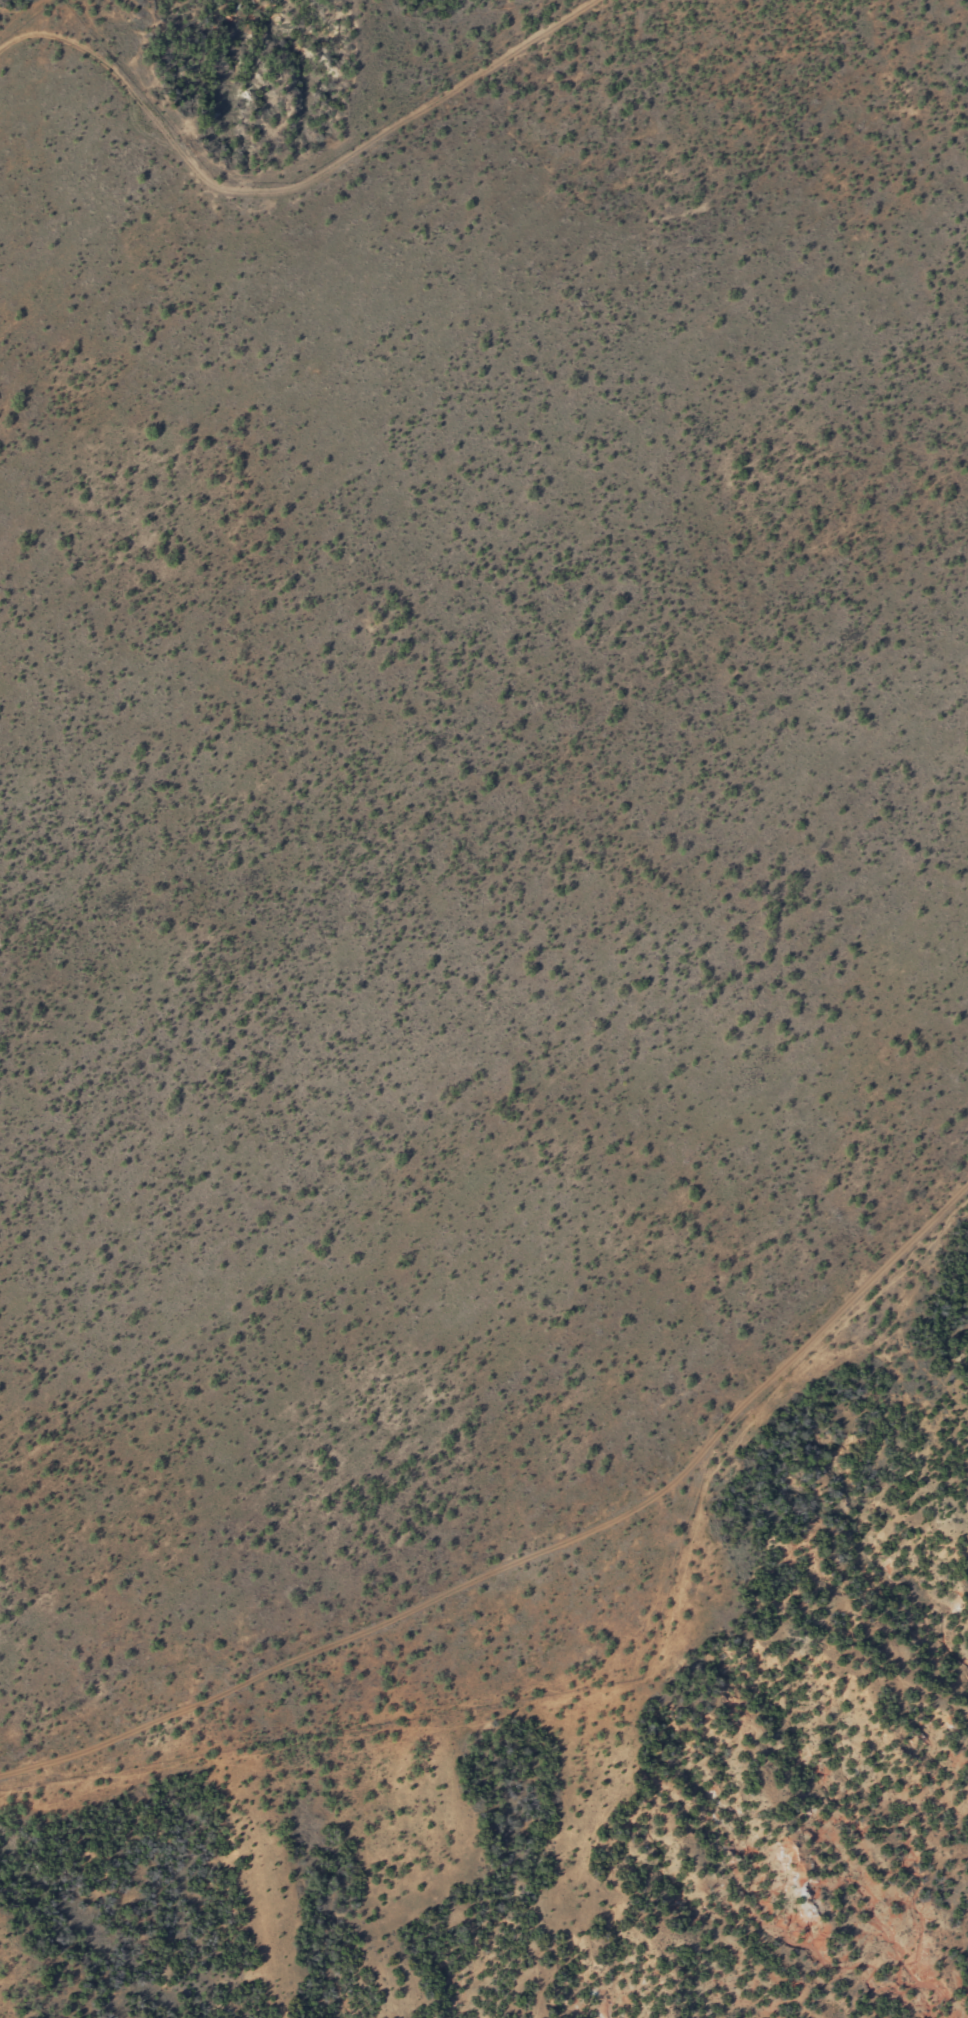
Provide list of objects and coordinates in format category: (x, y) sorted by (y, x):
road: (405, 164)
road: (538, 1588)

